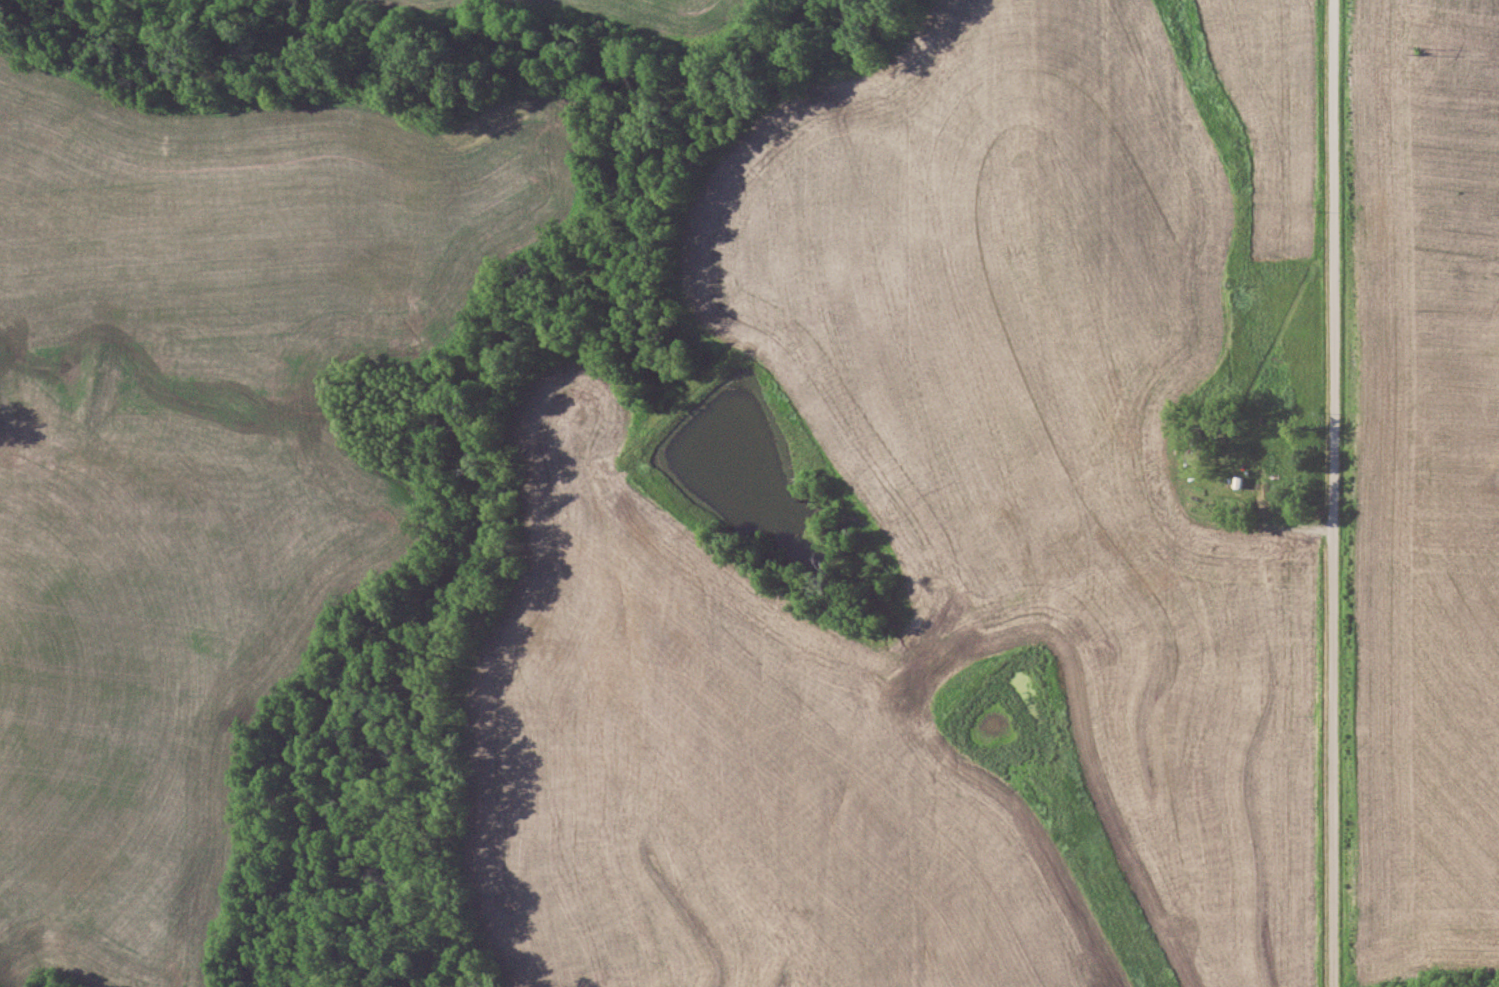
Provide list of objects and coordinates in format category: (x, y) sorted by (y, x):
building: (1262, 474)
road: (1331, 493)
crop: (1426, 978)

